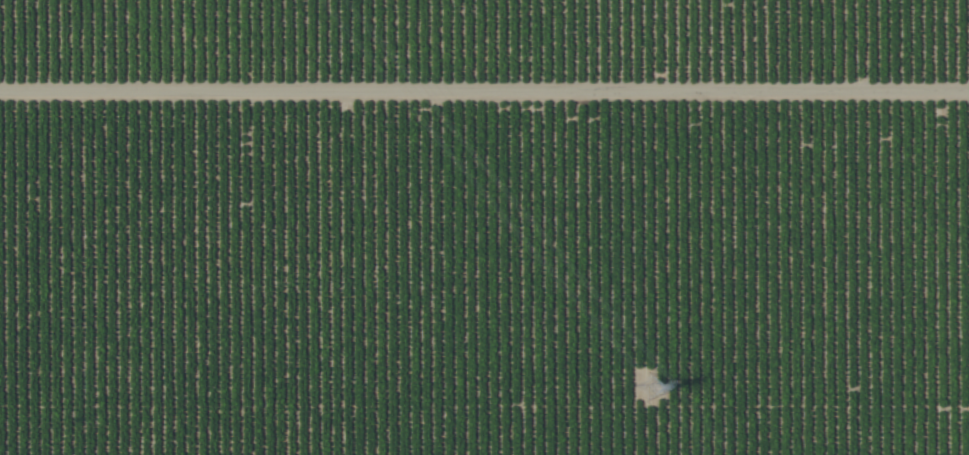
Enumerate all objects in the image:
power tower: (645, 386)

